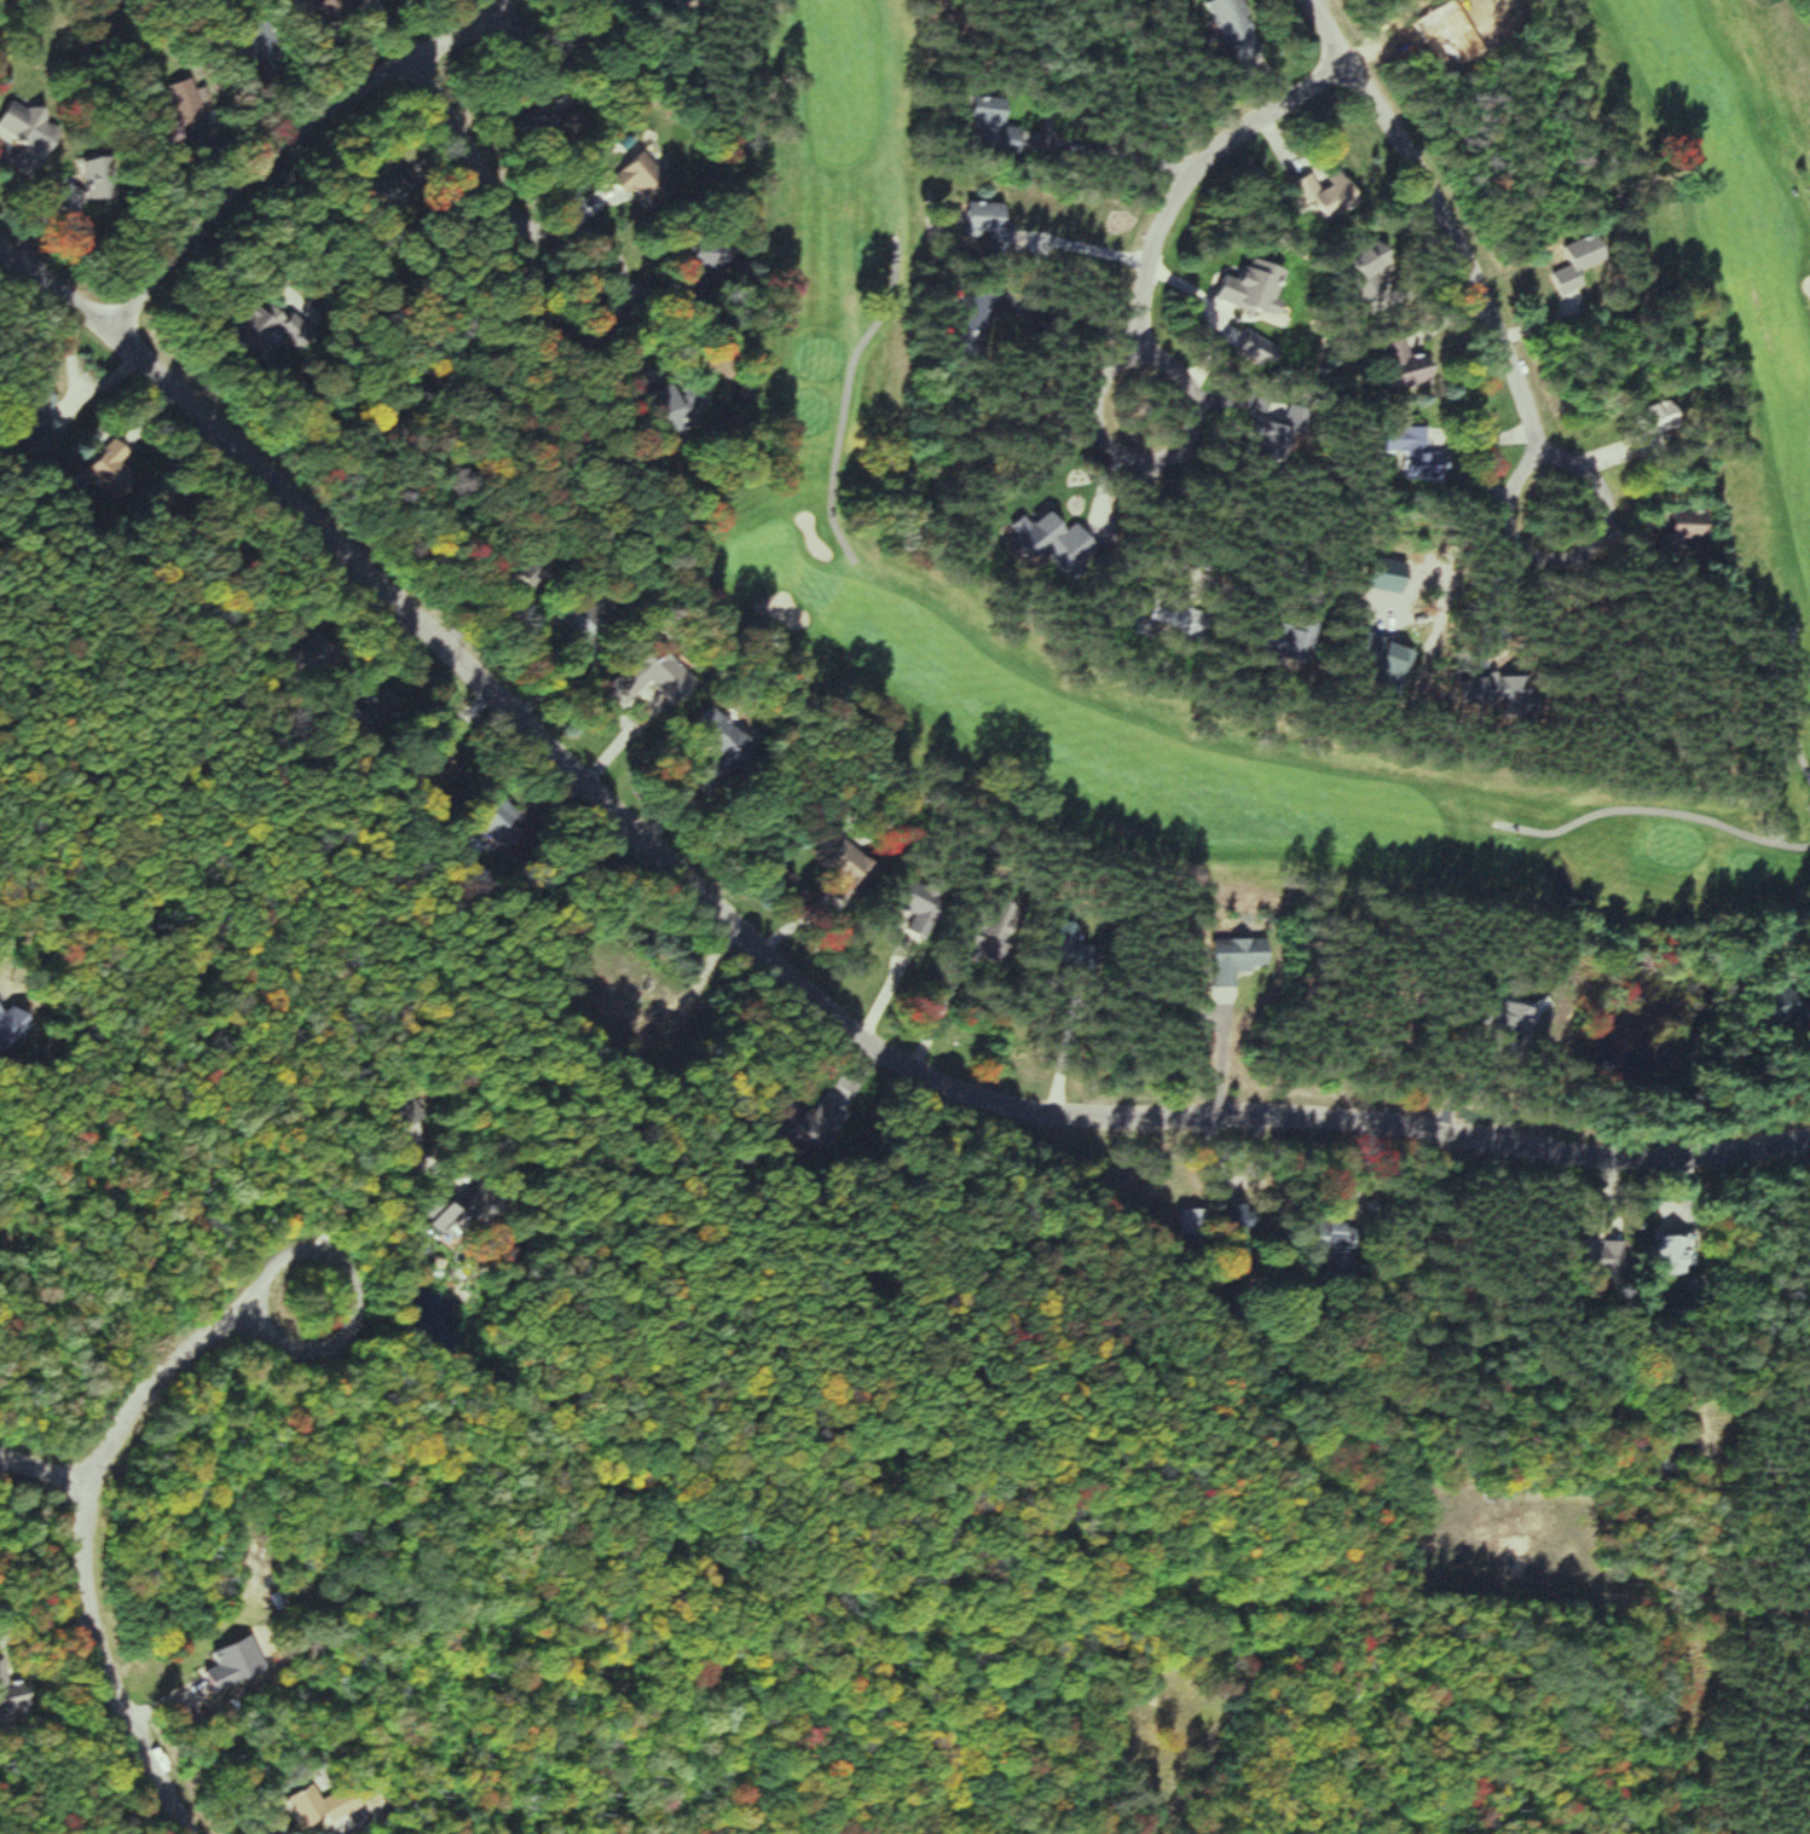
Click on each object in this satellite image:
building: (348, 8)
building: (1238, 28)
road: (1326, 33)
building: (539, 118)
building: (33, 123)
building: (1001, 127)
road: (301, 151)
road: (470, 164)
building: (650, 184)
building: (1334, 192)
building: (996, 225)
building: (722, 254)
building: (1563, 274)
building: (1260, 287)
road: (1146, 324)
building: (256, 325)
building: (1386, 364)
building: (688, 401)
road: (1515, 401)
park: (1158, 409)
building: (58, 412)
building: (1640, 421)
building: (1399, 453)
building: (116, 475)
building: (1665, 532)
building: (1062, 538)
building: (1180, 618)
building: (641, 679)
building: (1486, 693)
building: (851, 860)
building: (1242, 959)
road: (786, 972)
building: (1763, 1008)
building: (1493, 1019)
building: (12, 1028)
building: (822, 1112)
building: (1247, 1216)
building: (1198, 1221)
building: (1659, 1255)
building: (1580, 1256)
building: (1648, 1462)
road: (42, 1480)
road: (87, 1521)
building: (239, 1666)
building: (4, 1673)
building: (329, 1806)

